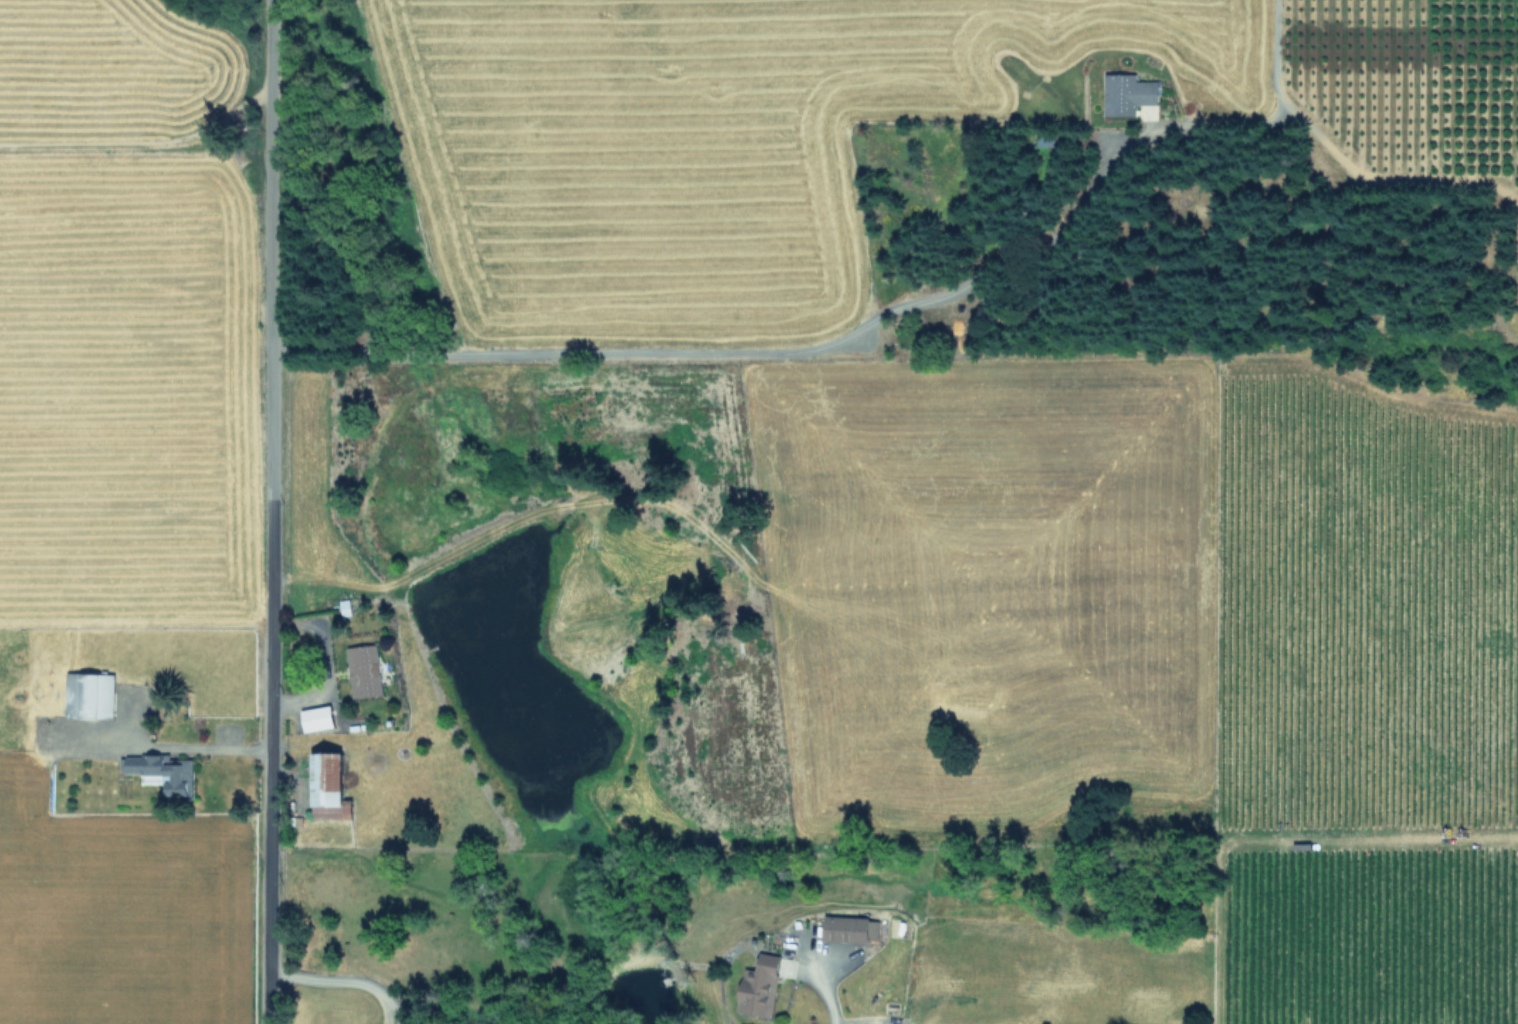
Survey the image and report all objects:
building: (1130, 93)
road: (752, 347)
crop: (122, 509)
road: (267, 512)
crop: (983, 517)
building: (366, 670)
building: (91, 693)
building: (319, 717)
road: (213, 746)
building: (163, 770)
building: (333, 785)
building: (854, 928)
road: (340, 984)
building: (762, 986)
road: (823, 994)

